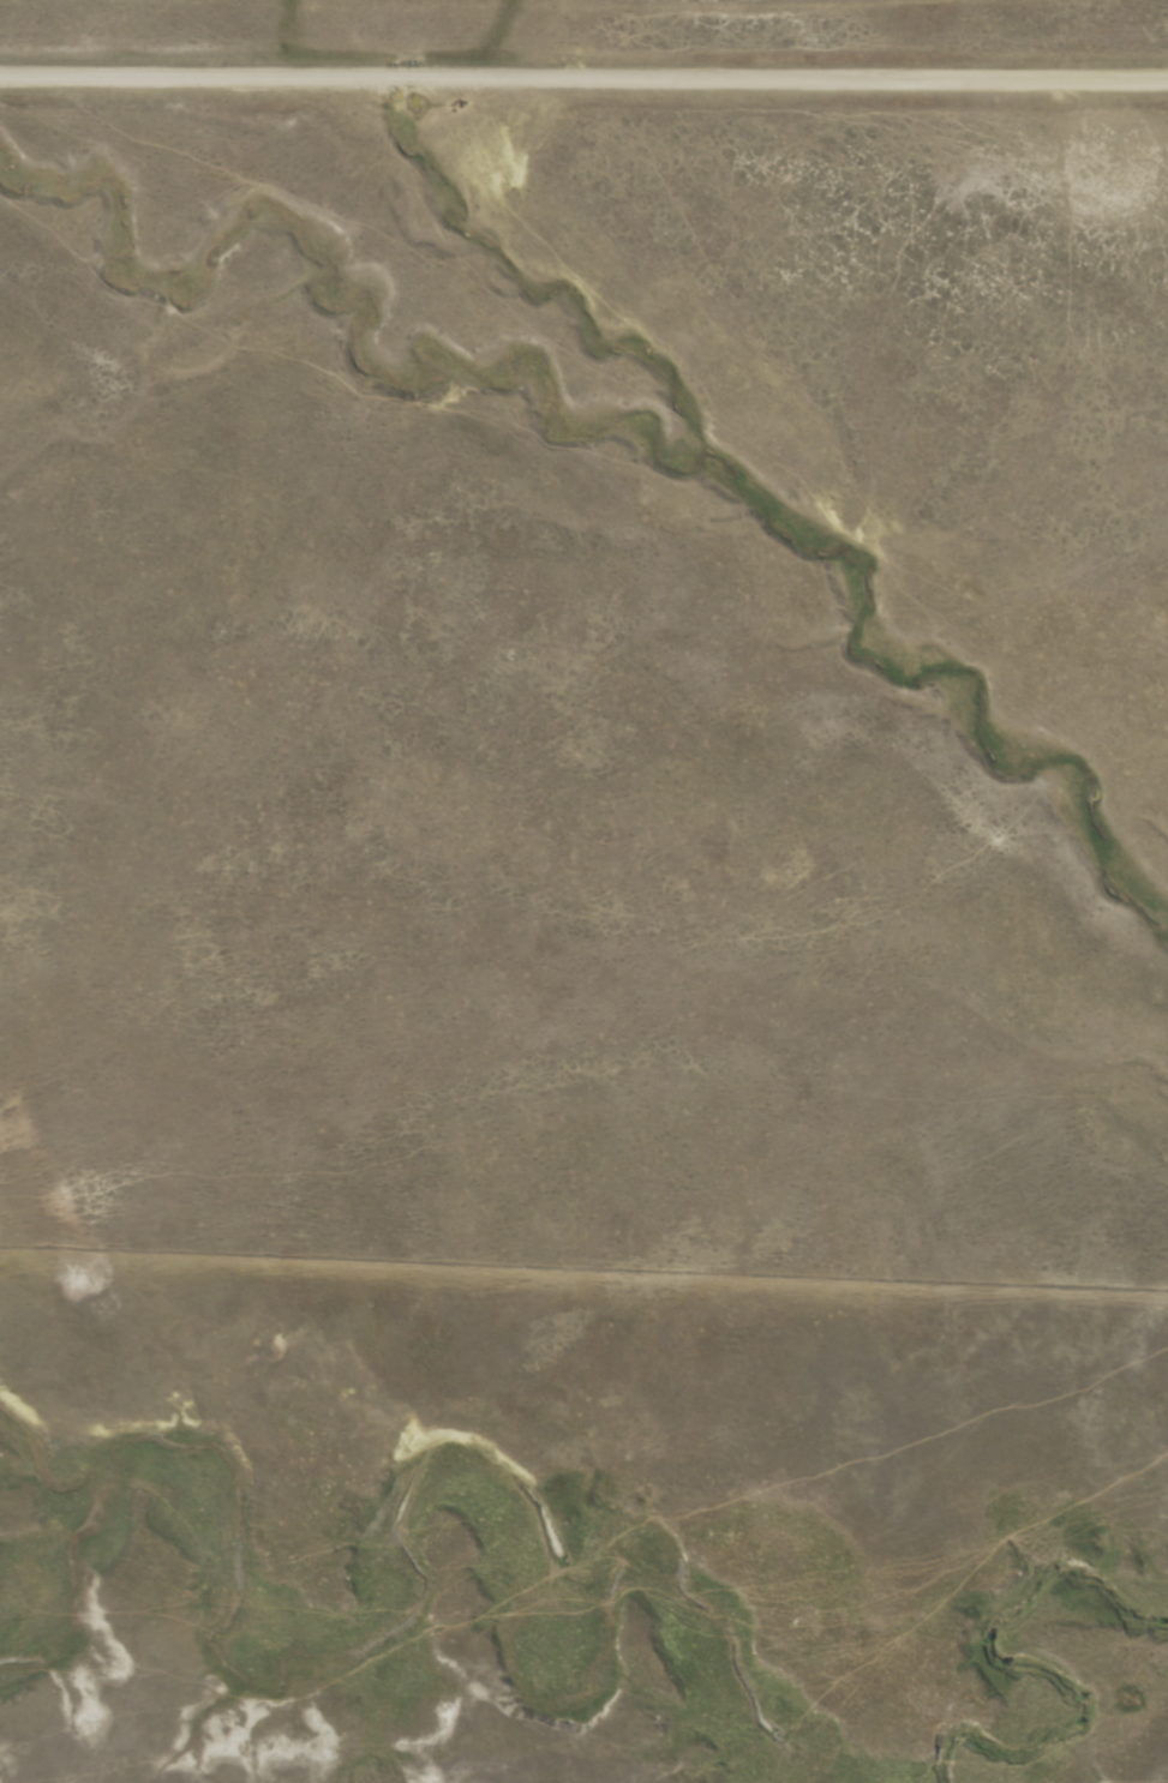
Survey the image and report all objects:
road: (583, 60)

